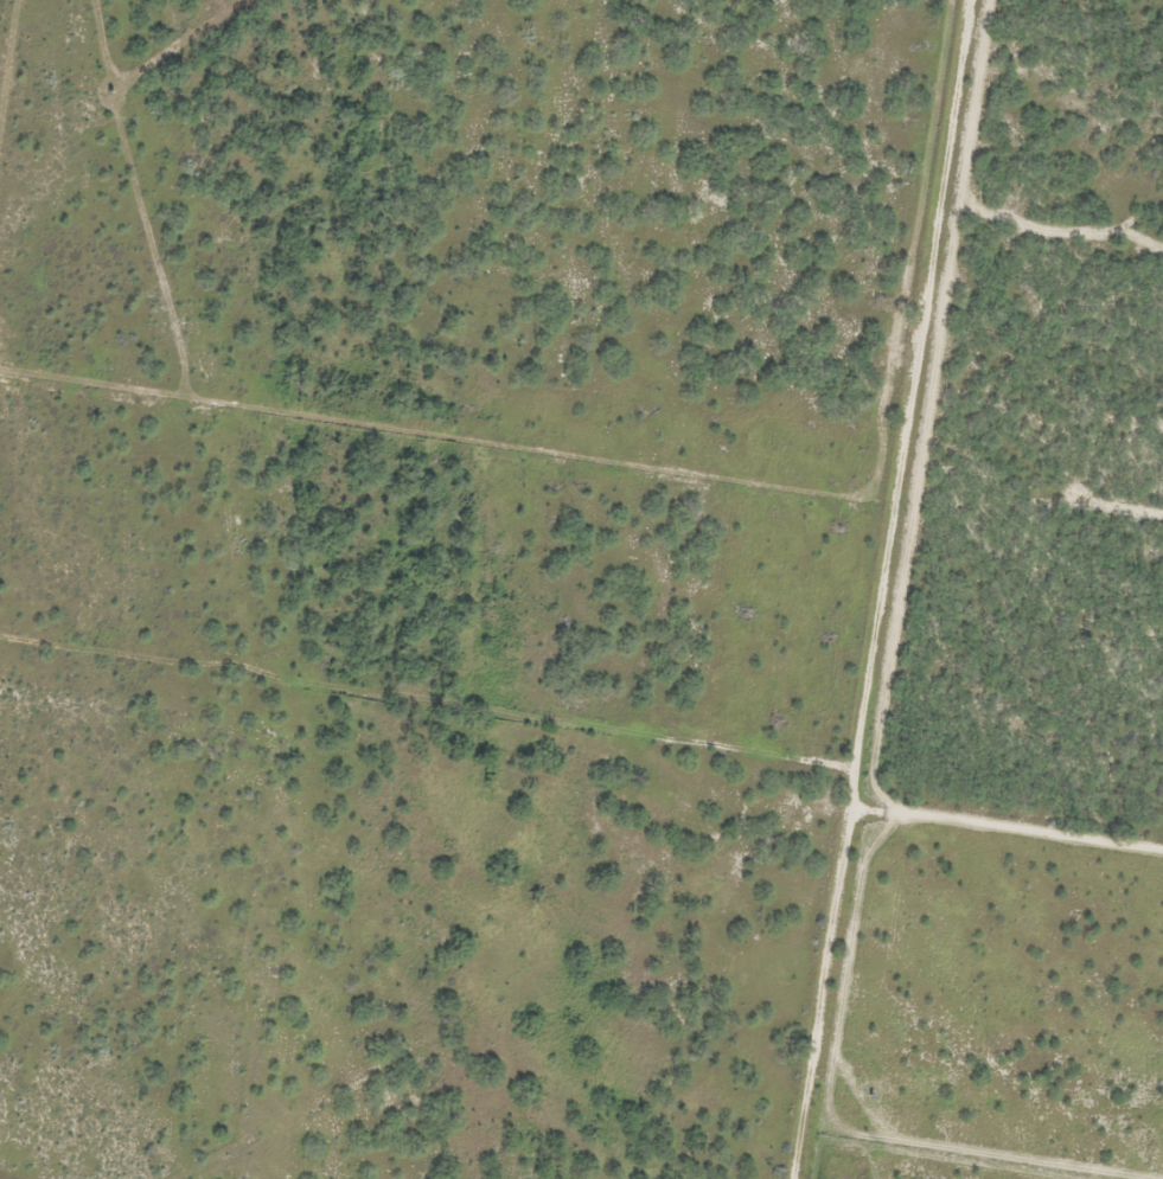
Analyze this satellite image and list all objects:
road: (895, 589)
road: (432, 755)

